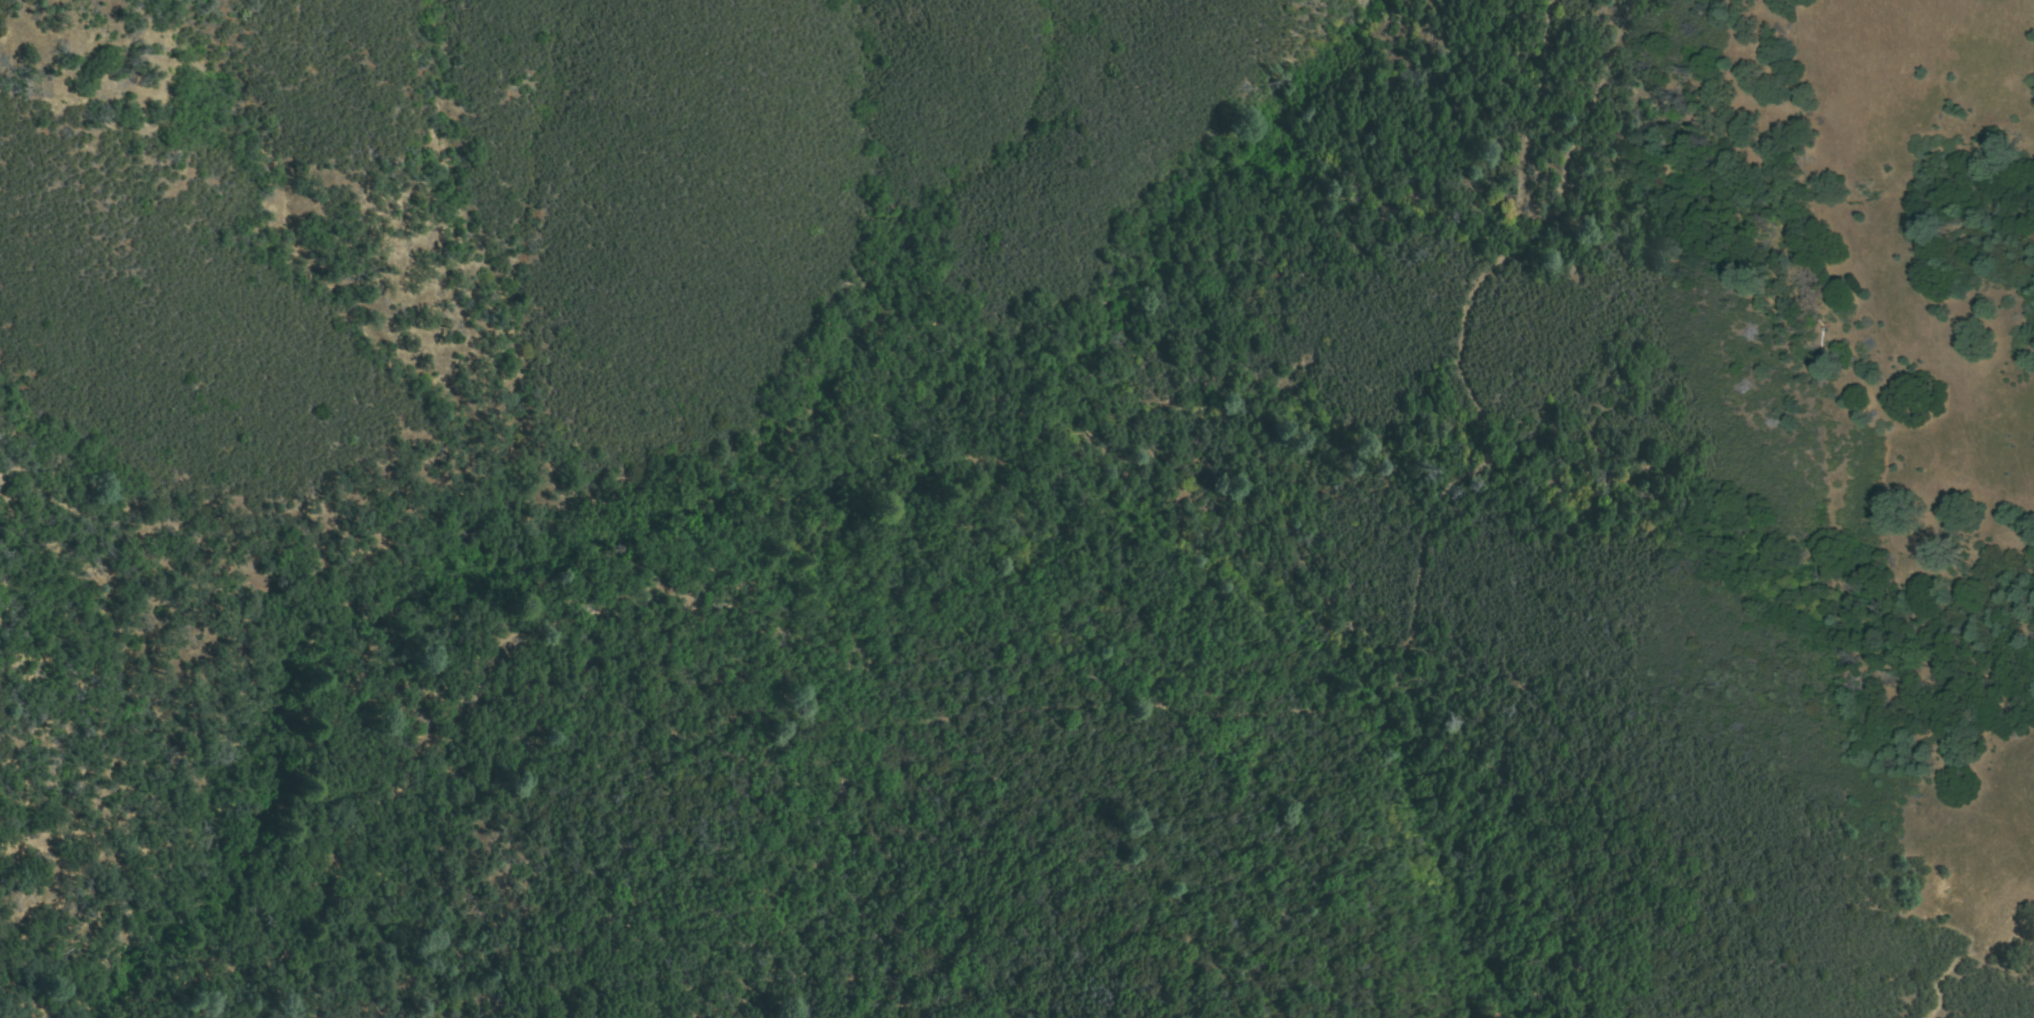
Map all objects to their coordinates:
road: (1744, 10)
road: (1362, 712)

